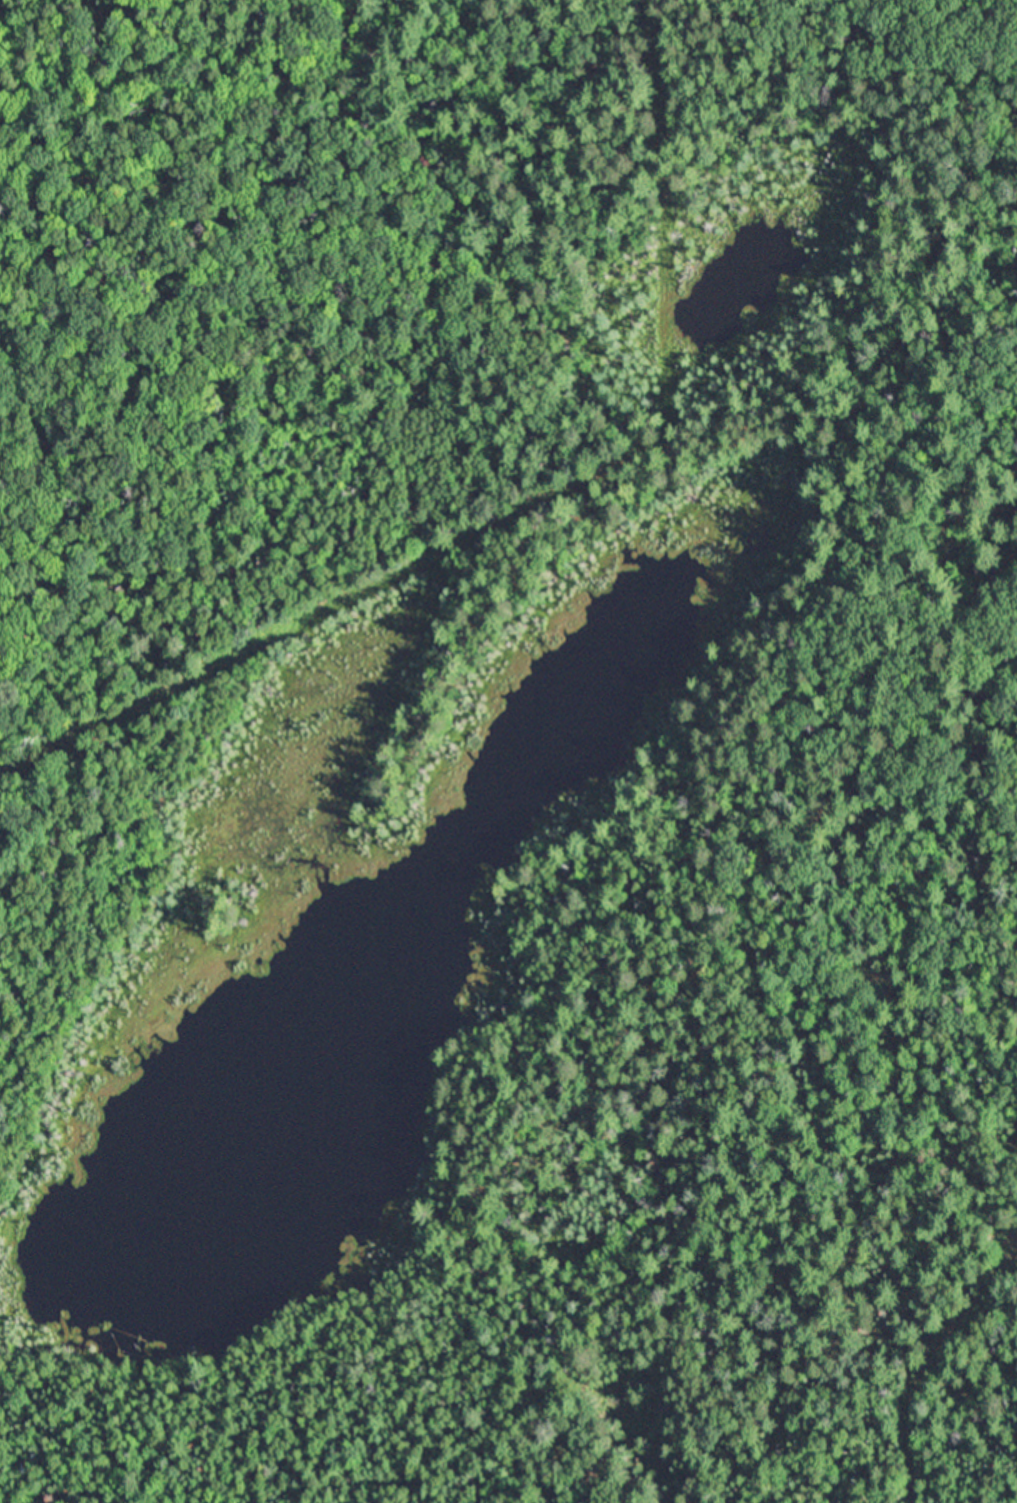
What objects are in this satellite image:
road: (932, 1361)

